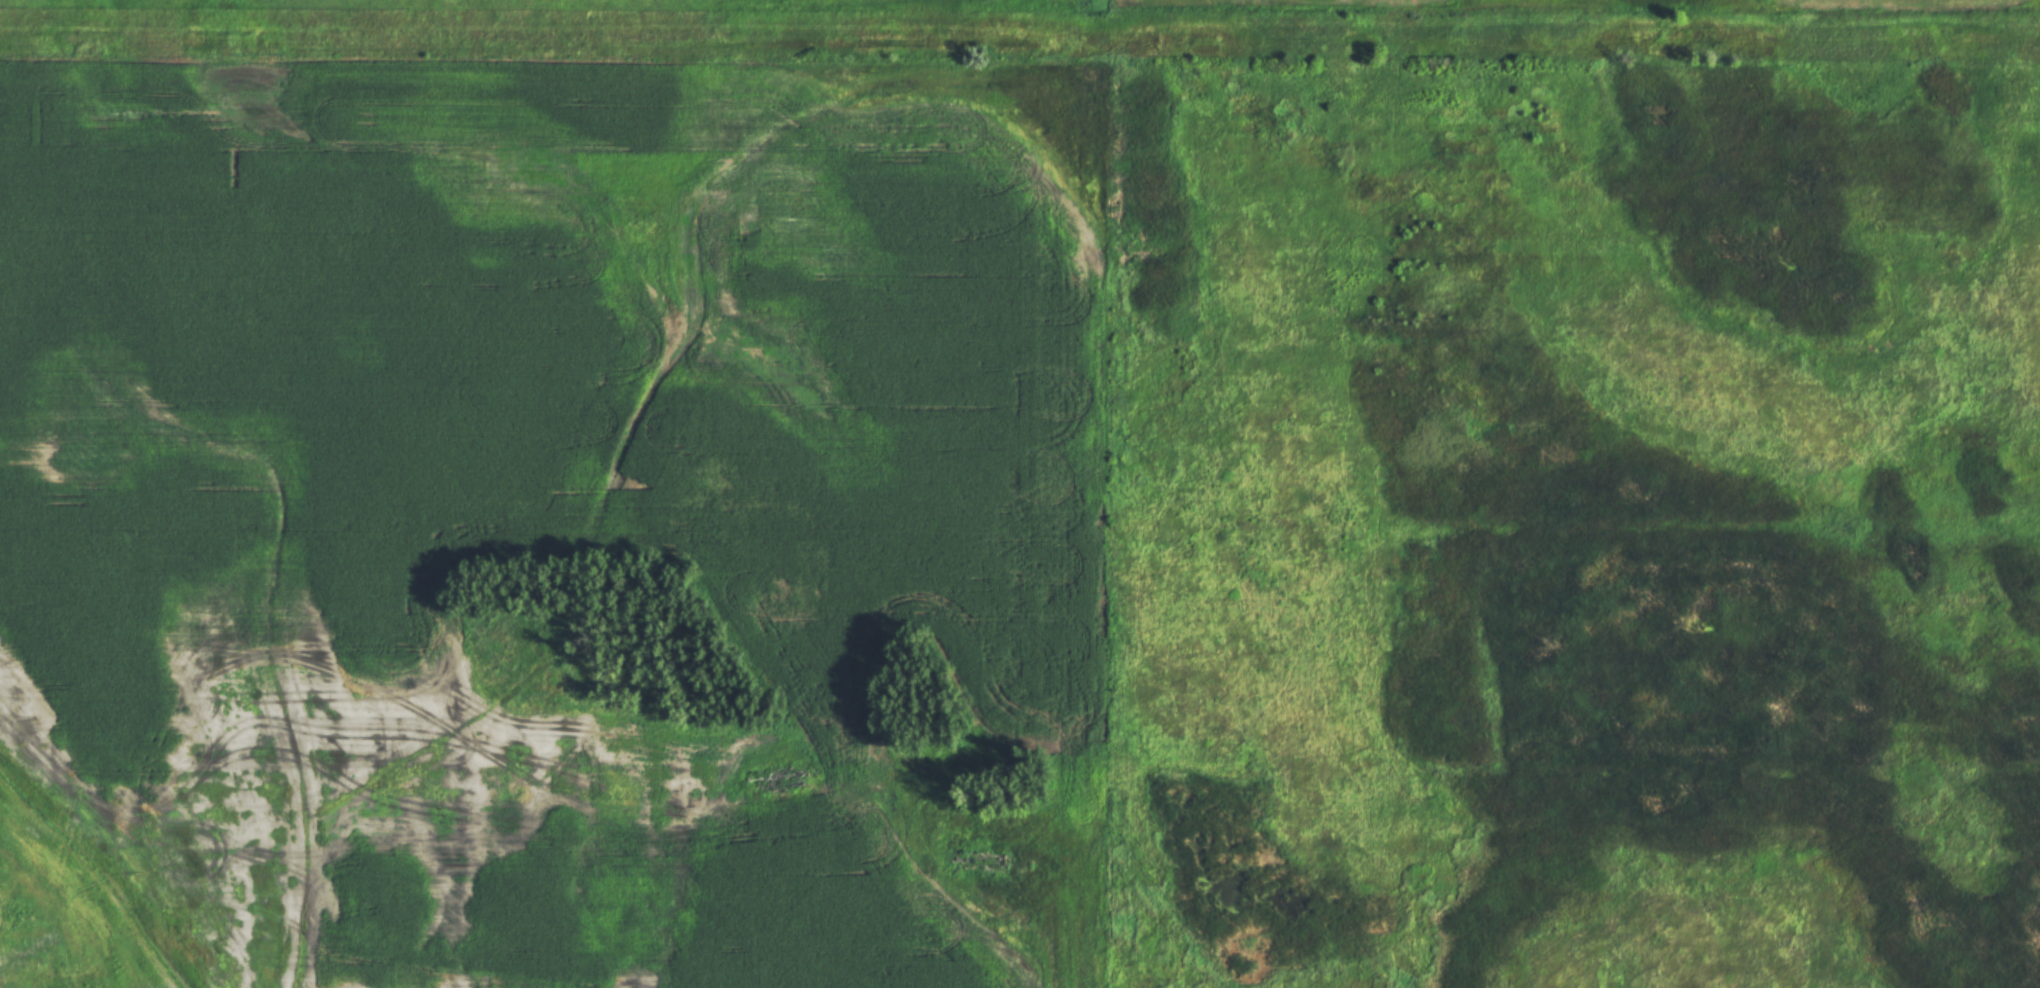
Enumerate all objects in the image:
road: (1020, 38)

